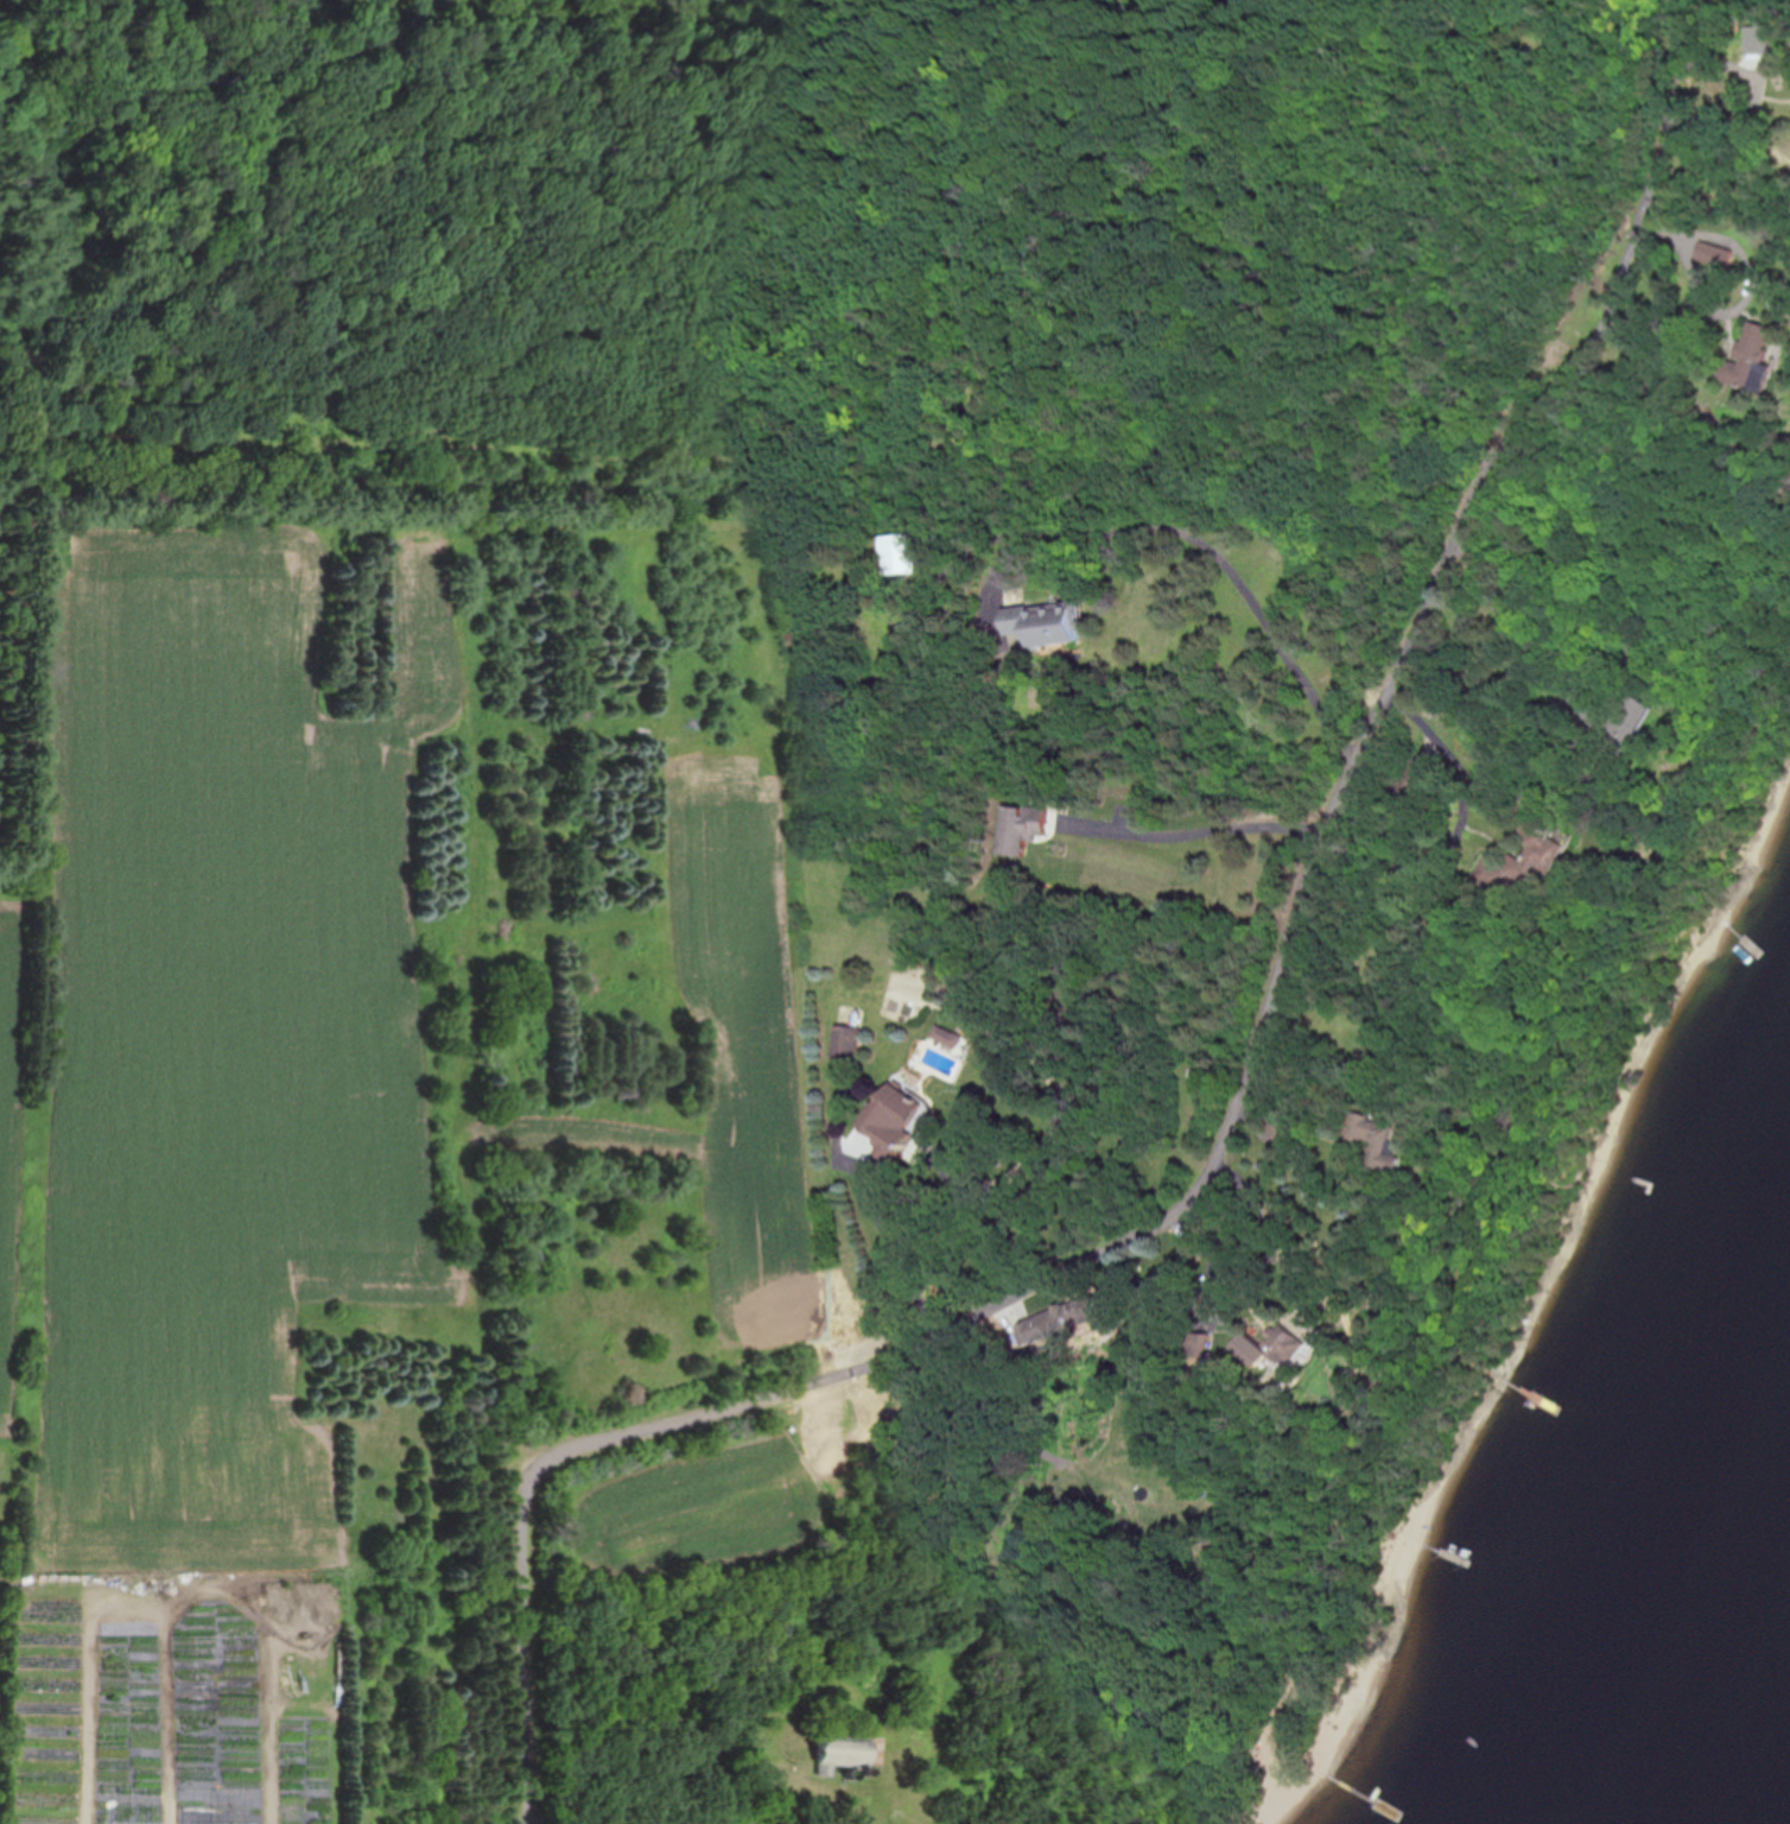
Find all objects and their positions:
park: (795, 256)
road: (1752, 281)
building: (1747, 356)
road: (1199, 540)
building: (900, 553)
building: (1040, 626)
building: (1618, 722)
road: (1447, 761)
building: (1018, 829)
road: (1201, 835)
building: (844, 1043)
road: (1239, 1116)
building: (894, 1126)
building: (1378, 1142)
road: (940, 1234)
road: (1221, 1246)
road: (891, 1262)
building: (1059, 1323)
building: (1287, 1344)
building: (1208, 1347)
building: (849, 1753)
building: (307, 1813)
road: (805, 1816)

